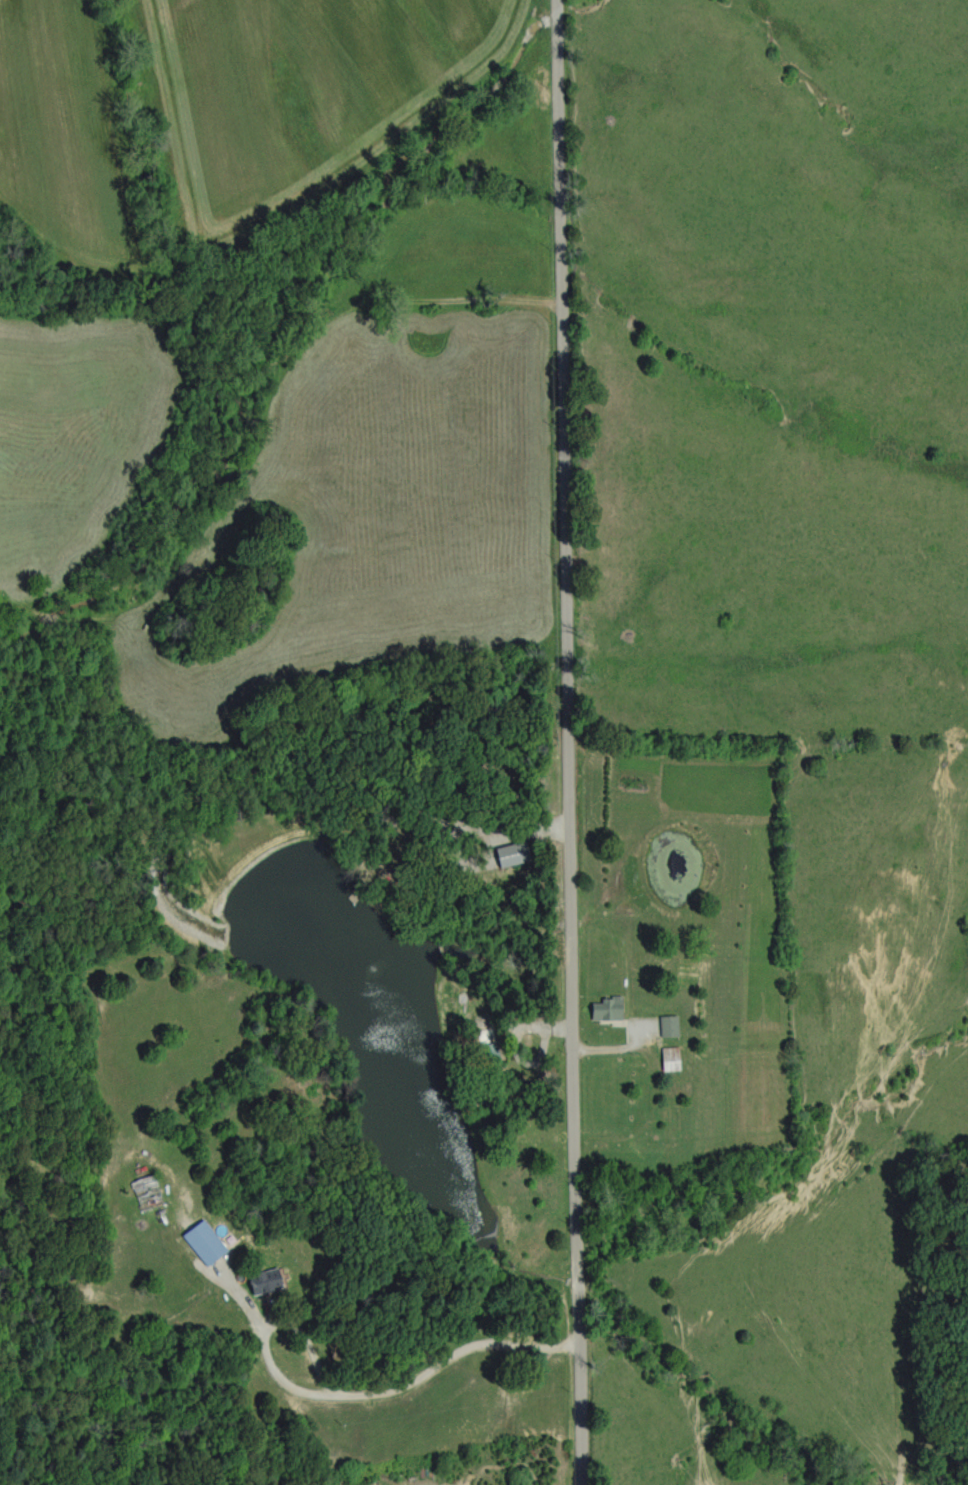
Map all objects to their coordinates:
road: (569, 742)
building: (504, 854)
building: (604, 1008)
building: (665, 1025)
building: (667, 1058)
building: (199, 1241)
building: (259, 1279)
road: (339, 1398)
building: (373, 1484)

